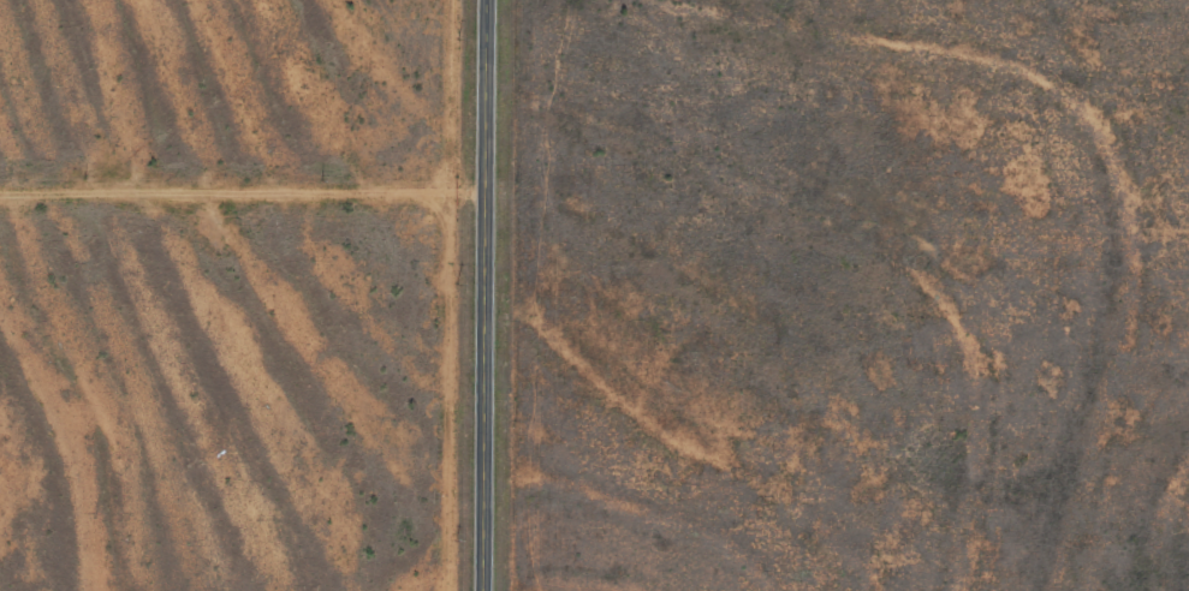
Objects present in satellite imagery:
road: (245, 198)
road: (492, 295)

